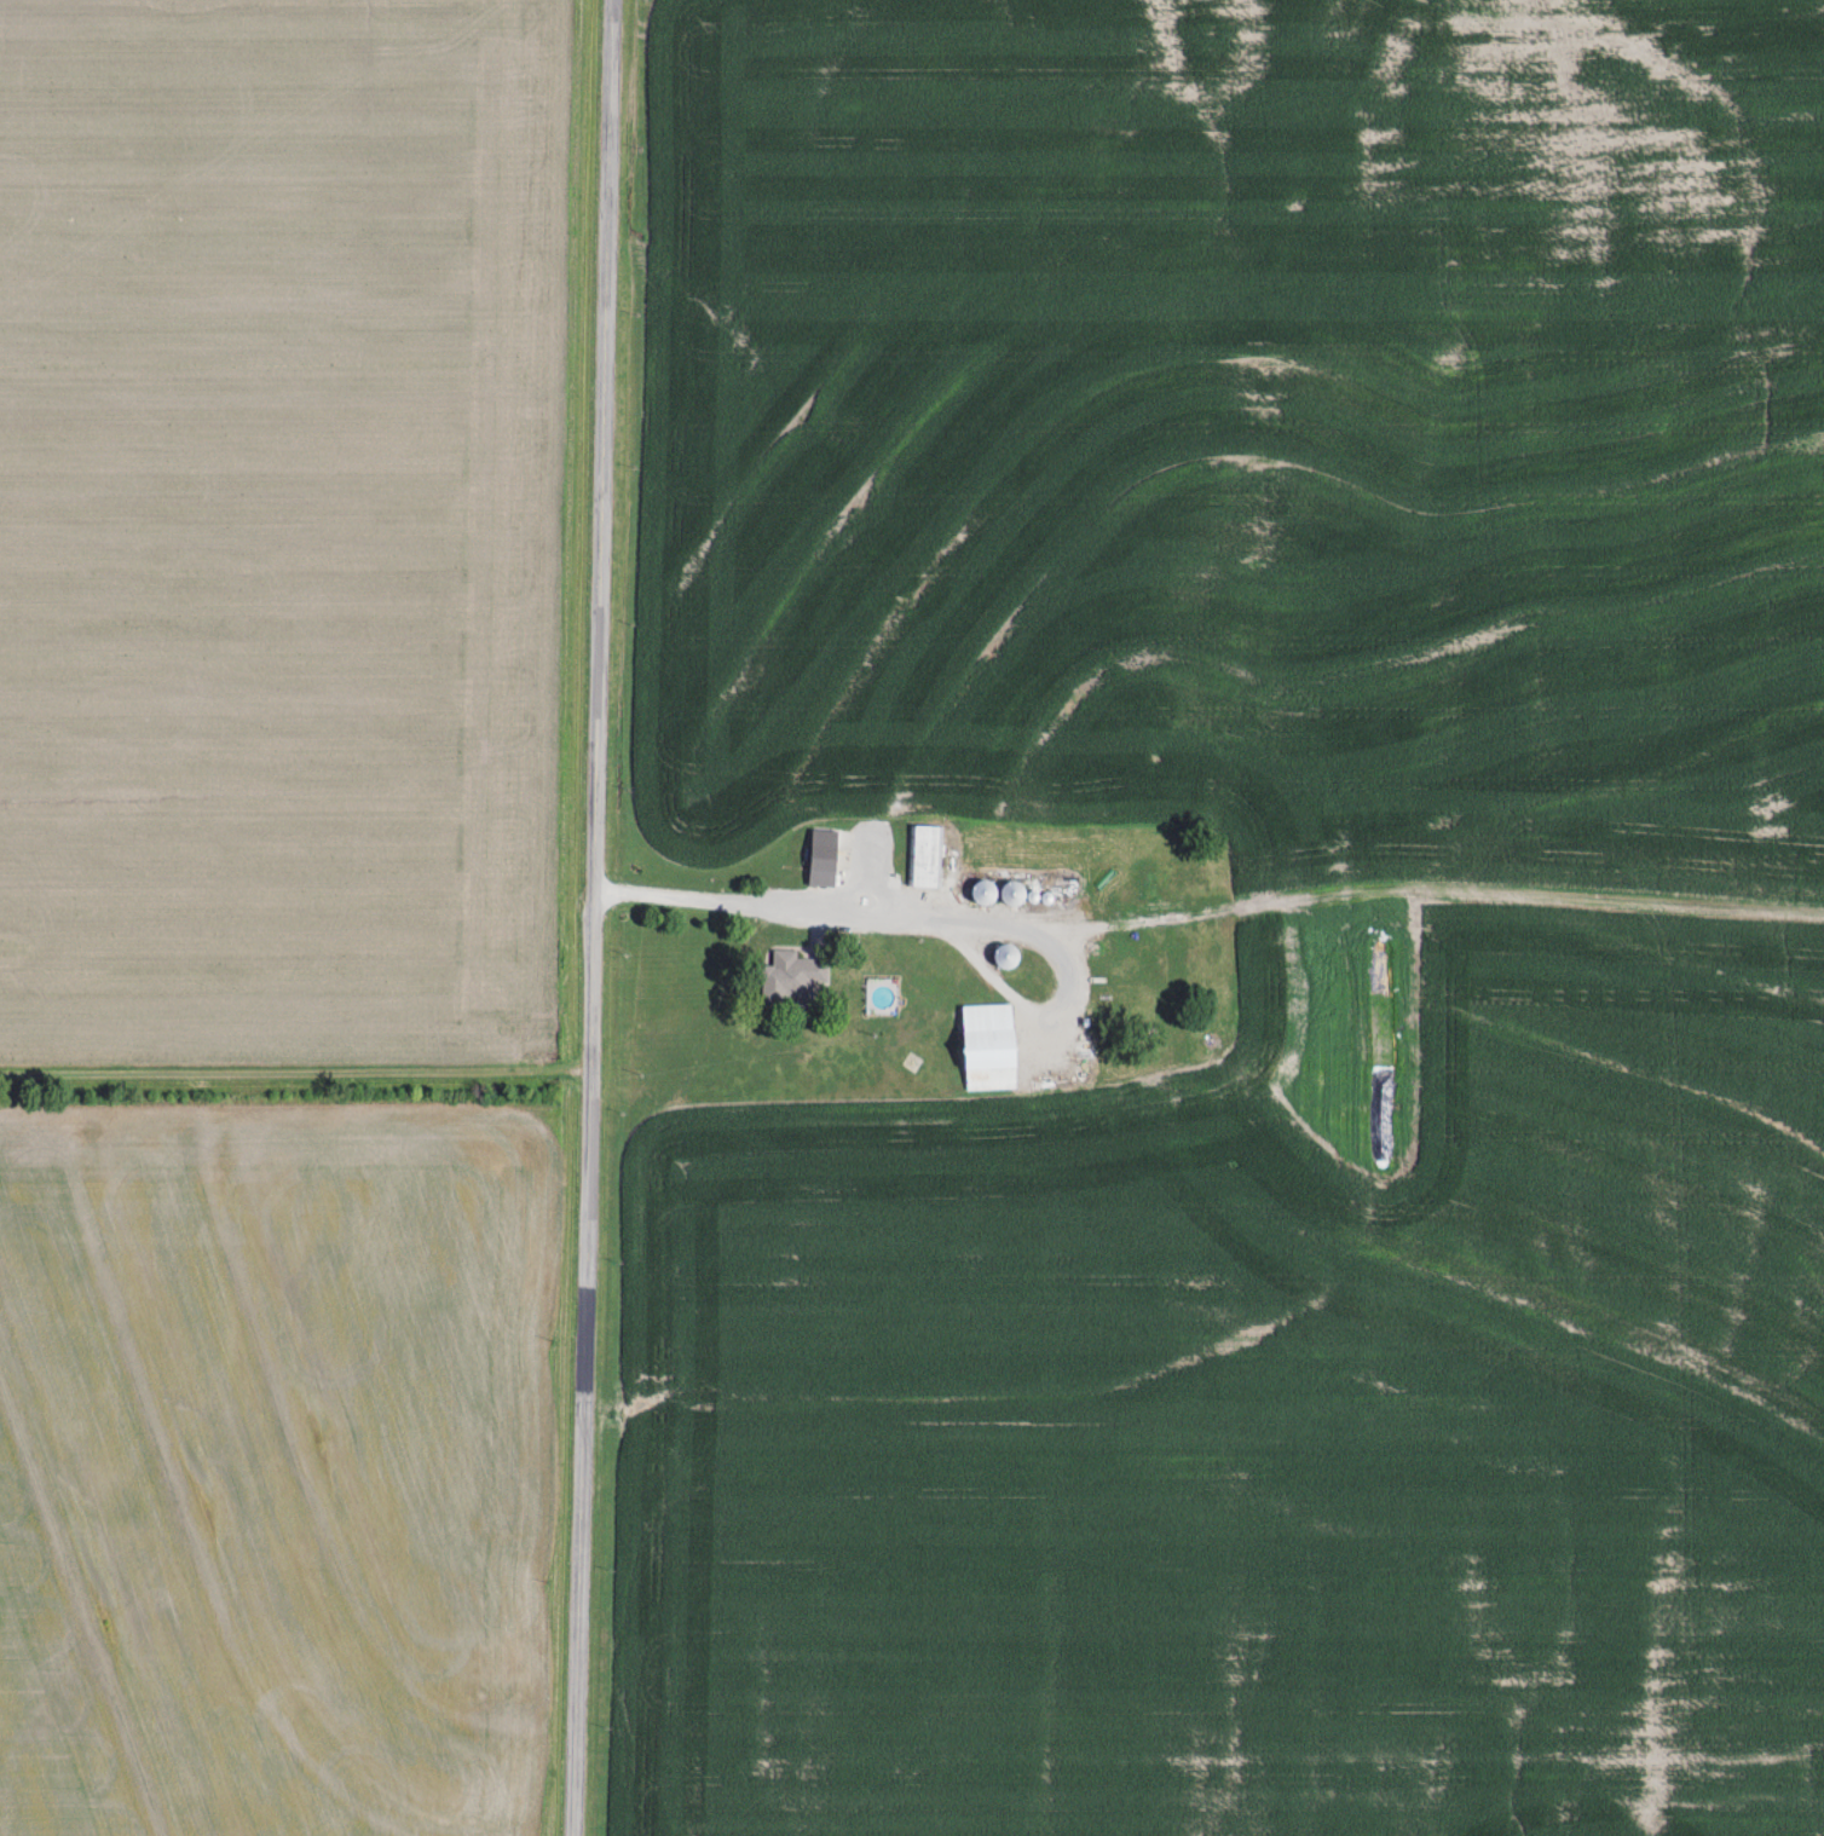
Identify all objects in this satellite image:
building: (925, 856)
building: (824, 859)
building: (986, 893)
building: (1014, 894)
road: (591, 917)
road: (933, 923)
building: (1008, 957)
building: (789, 980)
building: (991, 1046)

